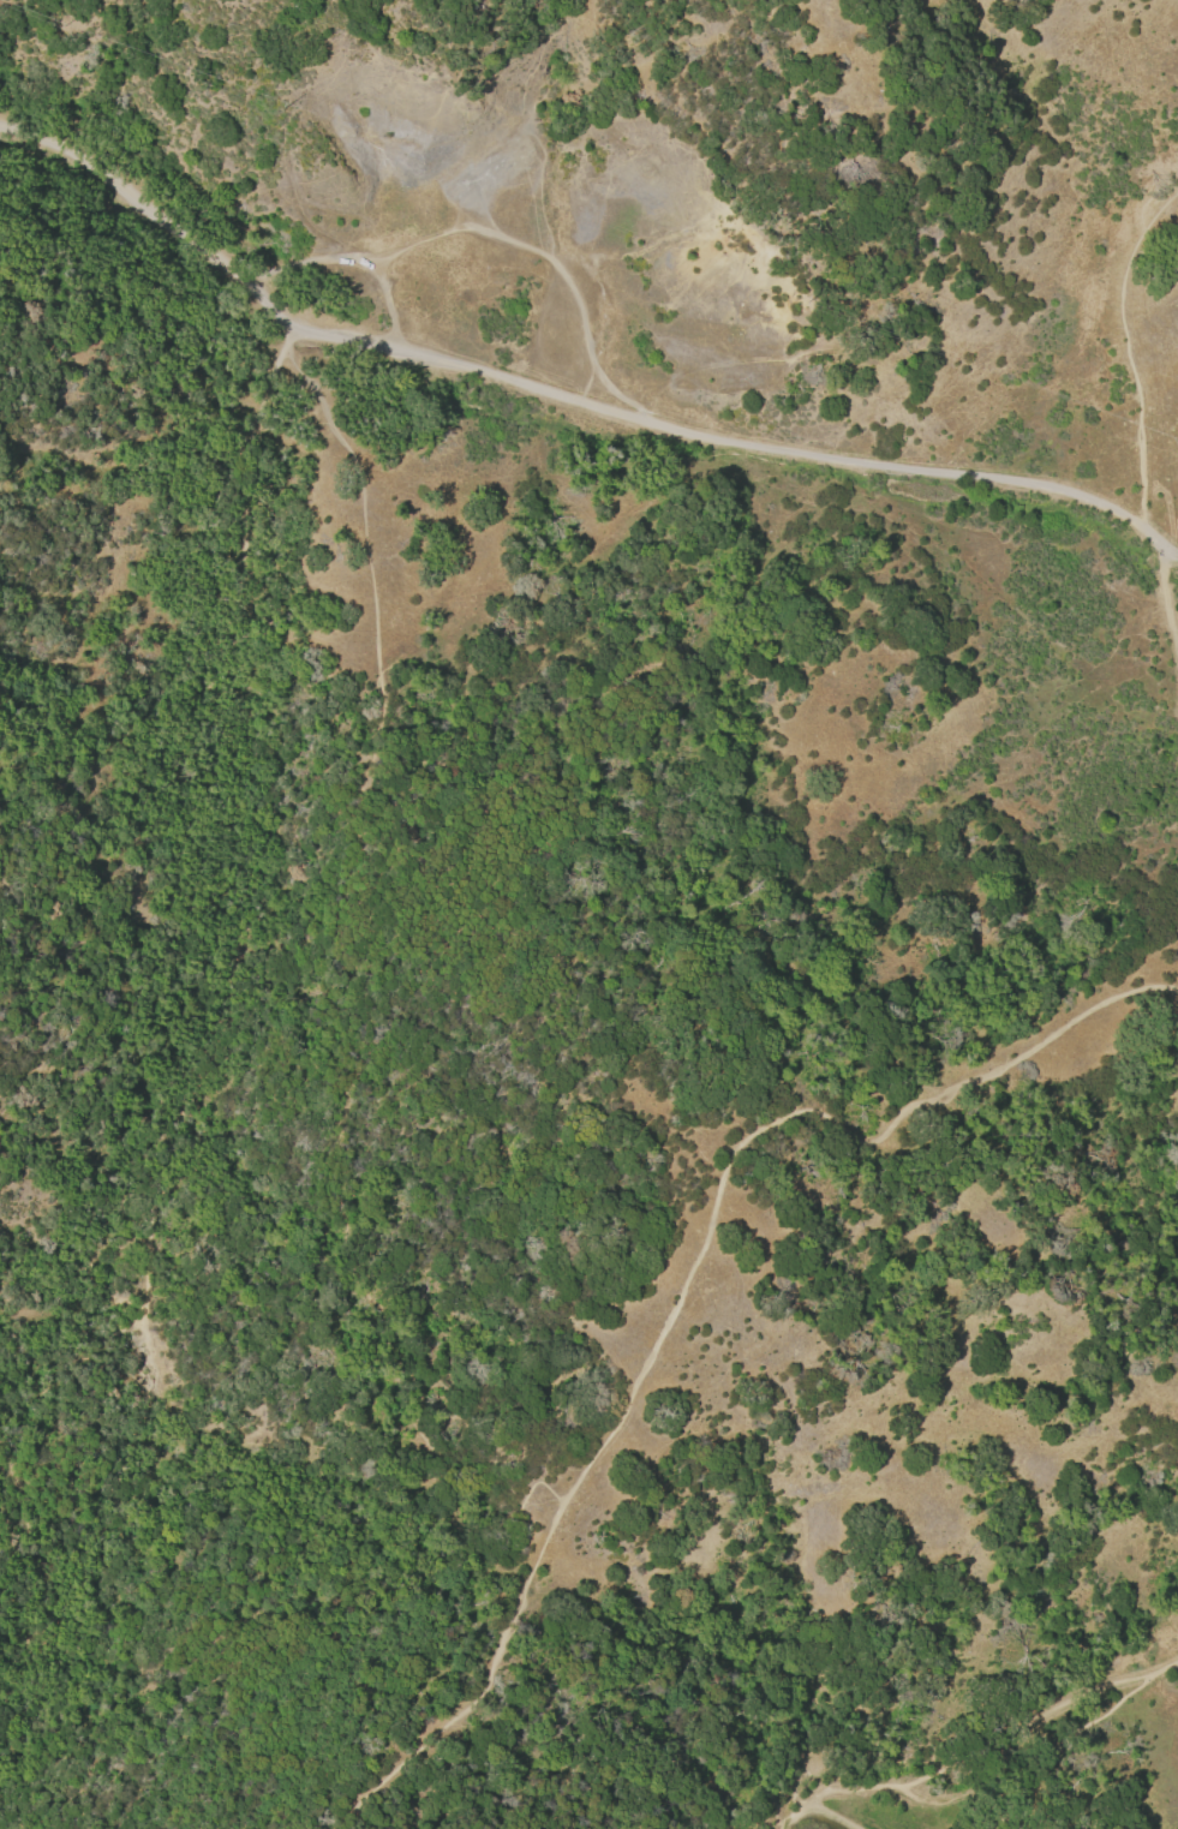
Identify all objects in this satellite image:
road: (516, 244)
road: (309, 261)
road: (1125, 348)
road: (562, 404)
road: (1166, 605)
road: (244, 897)
road: (409, 990)
road: (683, 1290)
road: (60, 1365)
road: (29, 1496)
road: (49, 1584)
road: (1077, 1733)
road: (949, 1769)
road: (941, 1799)
dam: (891, 1813)
road: (783, 1815)

